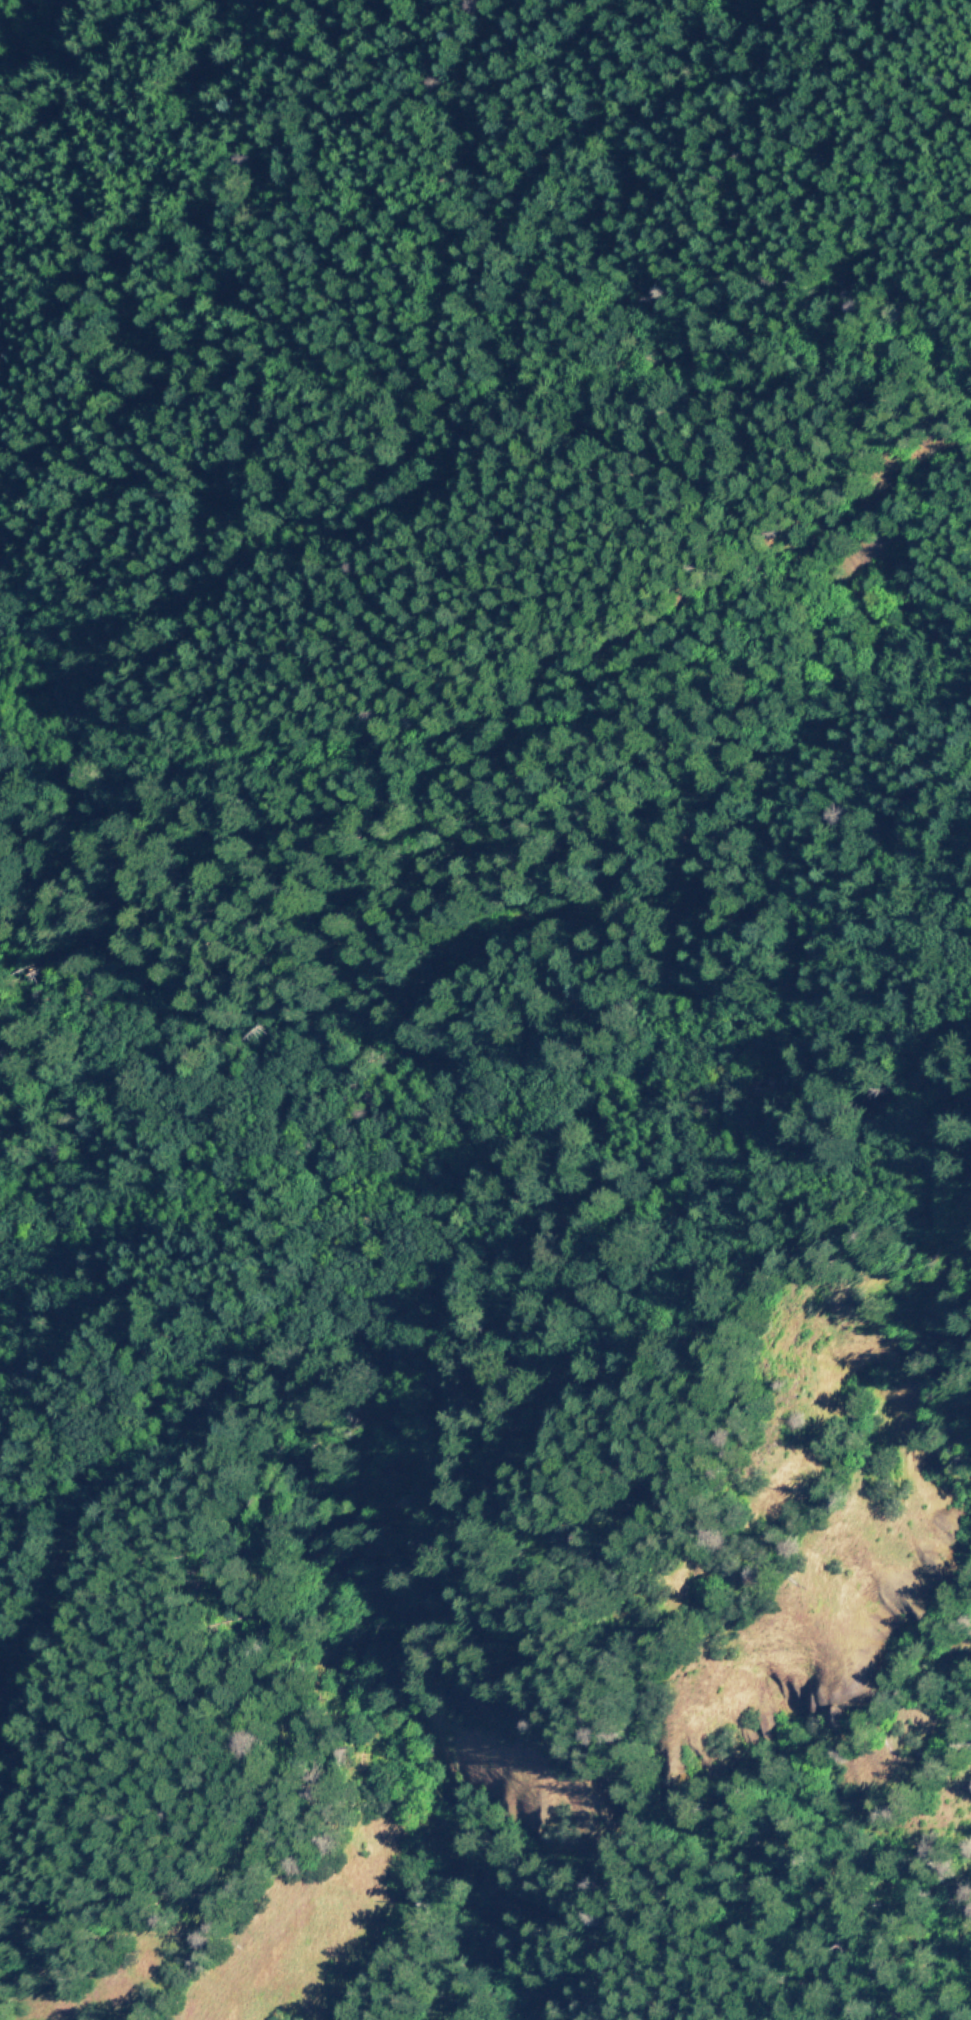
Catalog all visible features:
road: (415, 275)
road: (521, 706)

